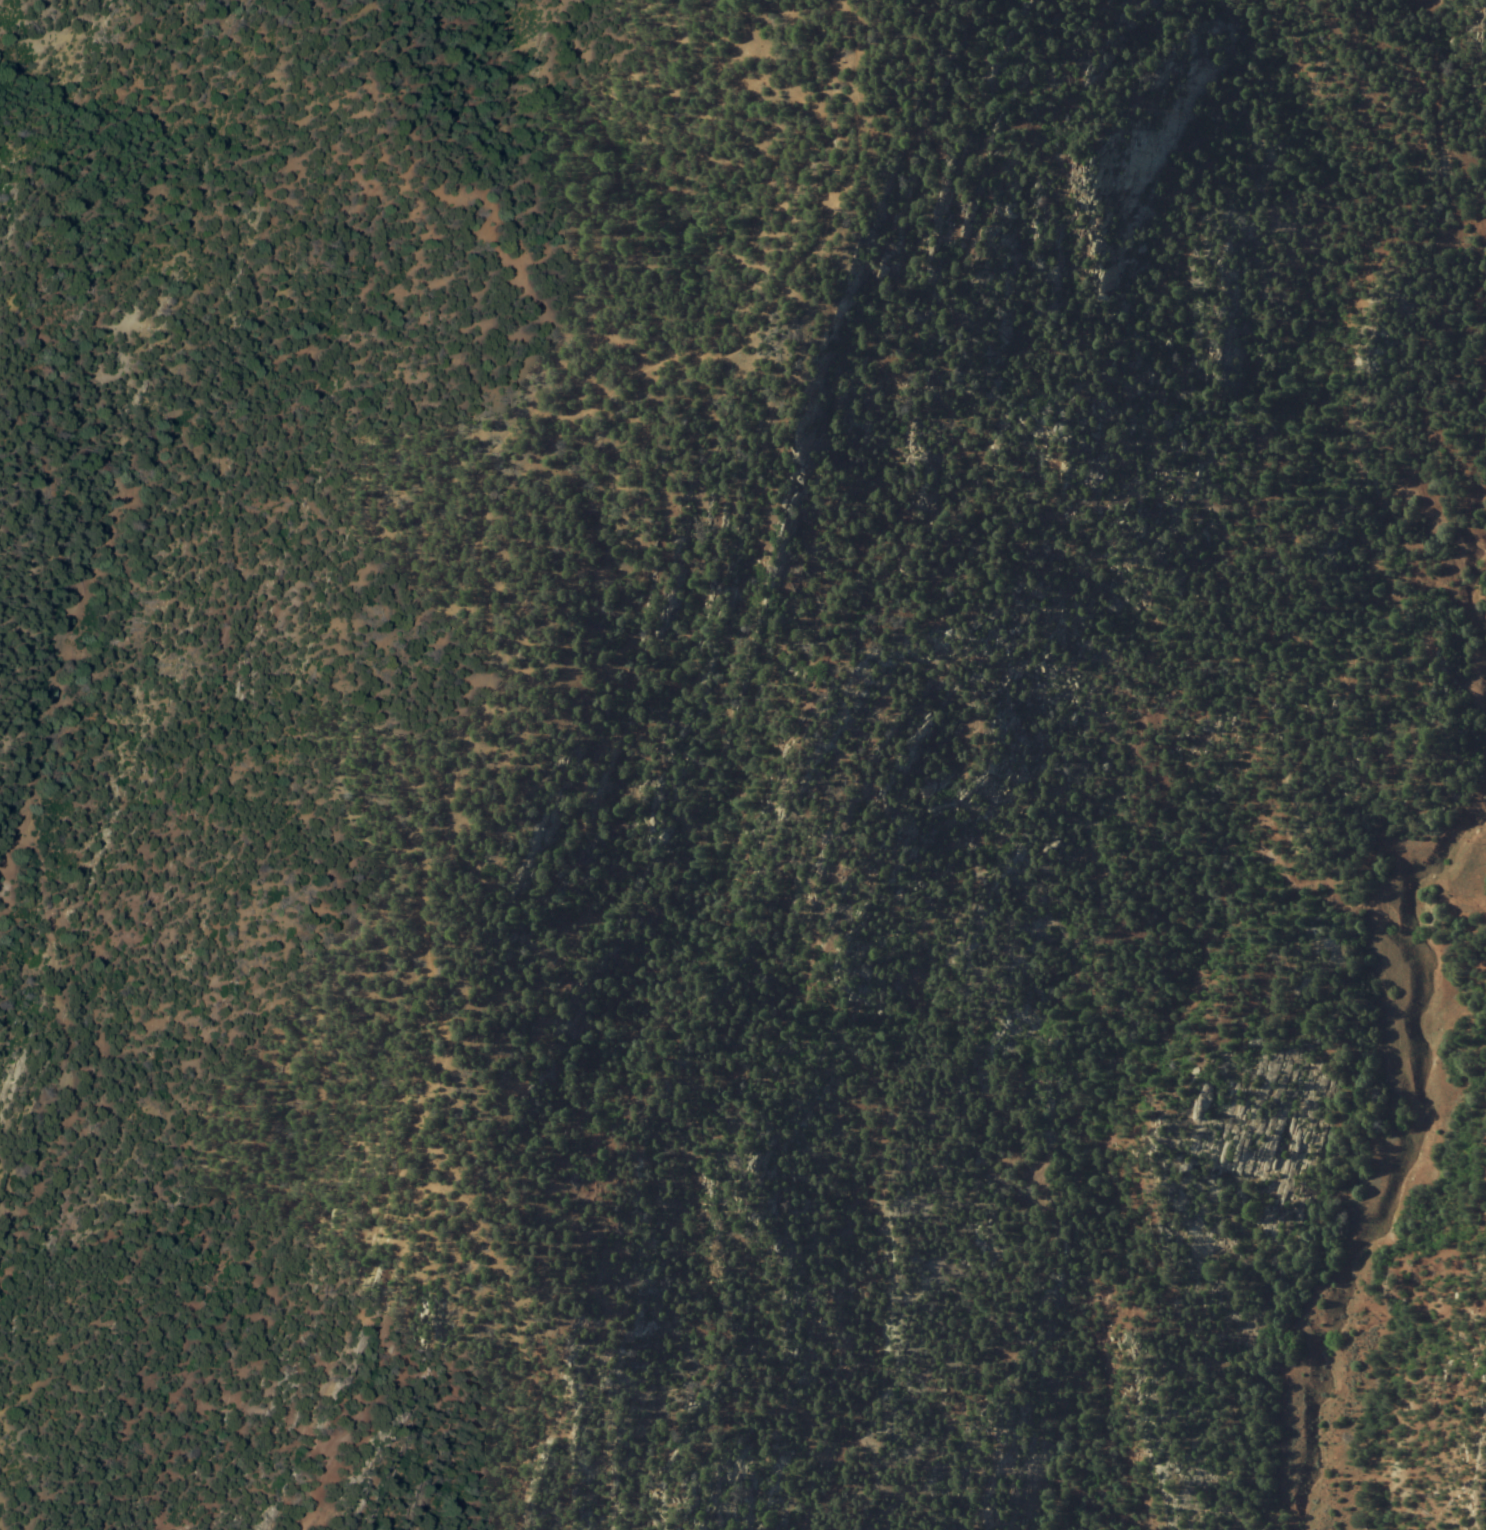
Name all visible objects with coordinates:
road: (53, 673)
road: (476, 682)
road: (71, 1337)

